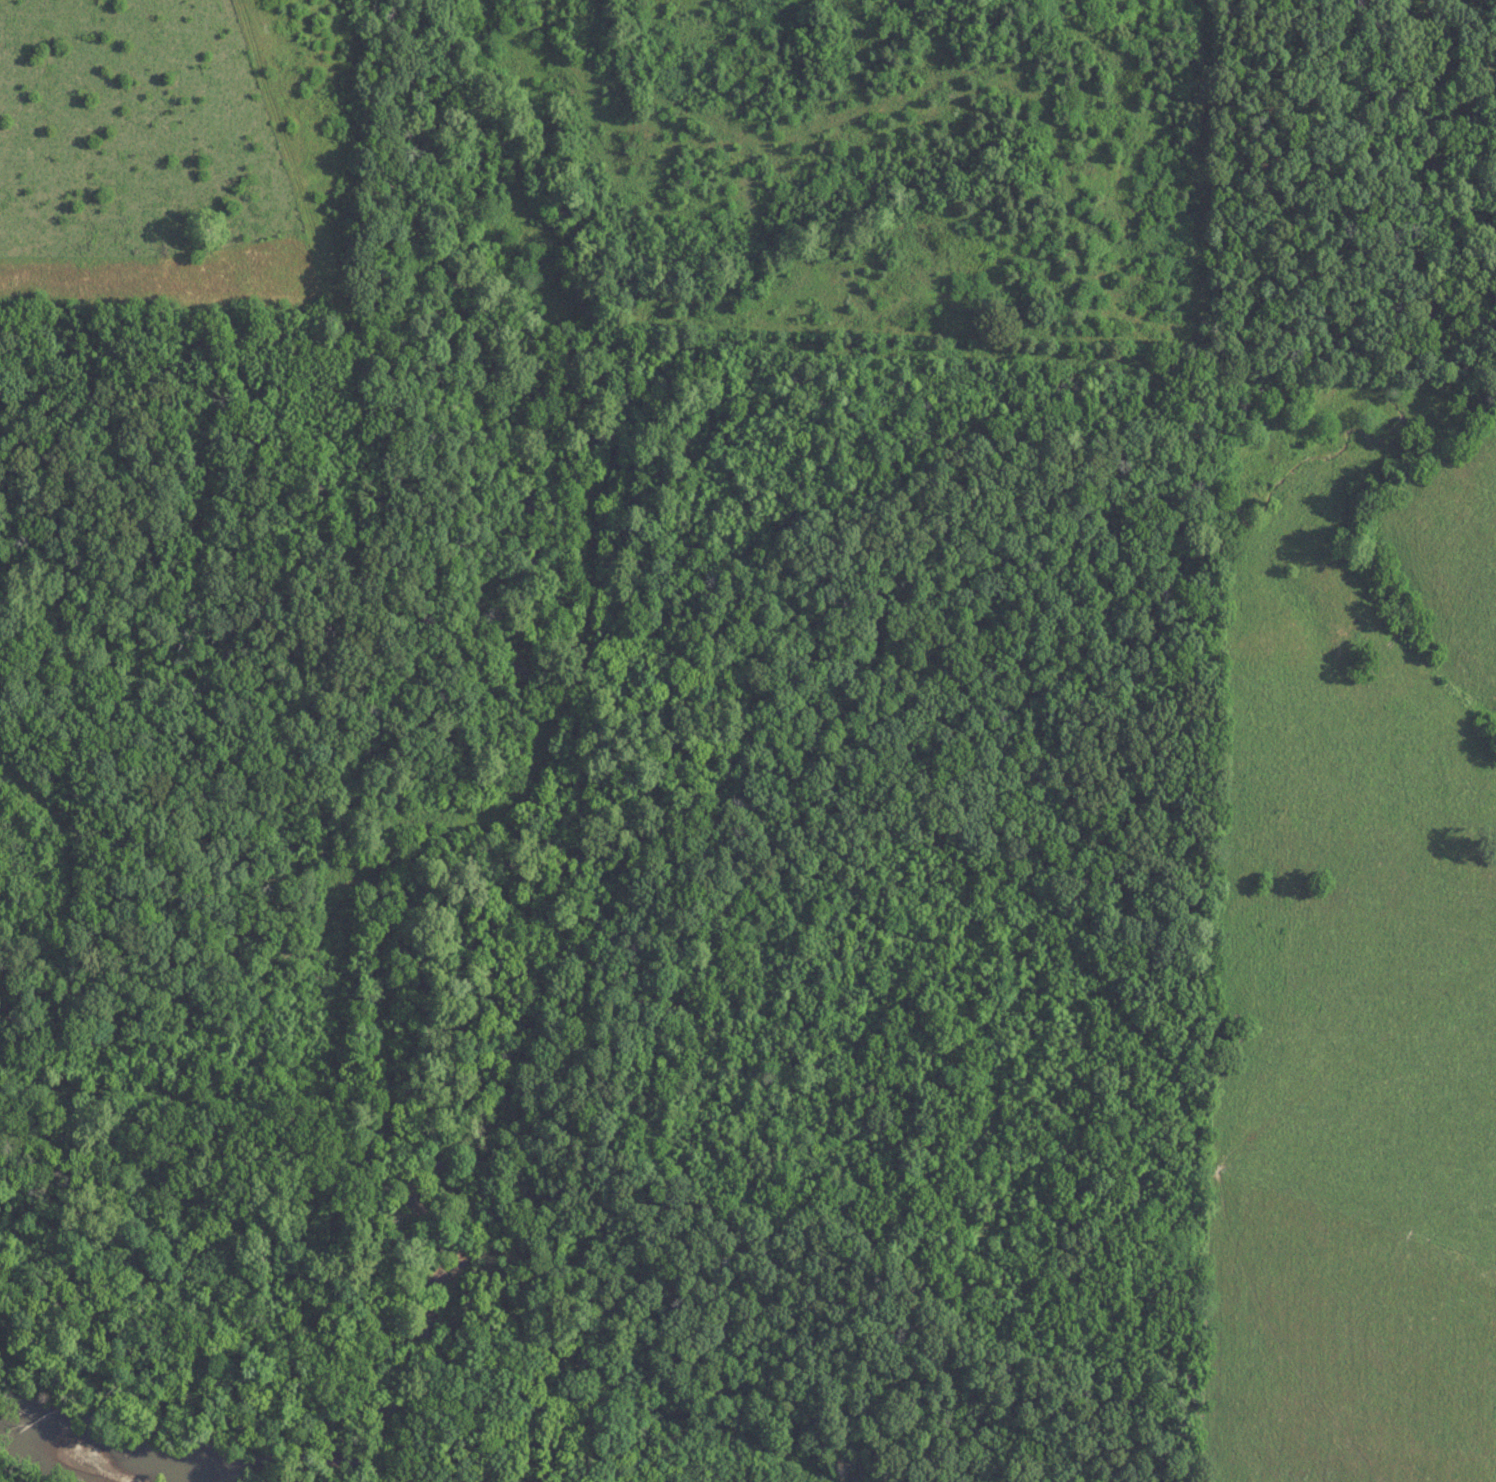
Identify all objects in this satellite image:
river: (86, 1452)

